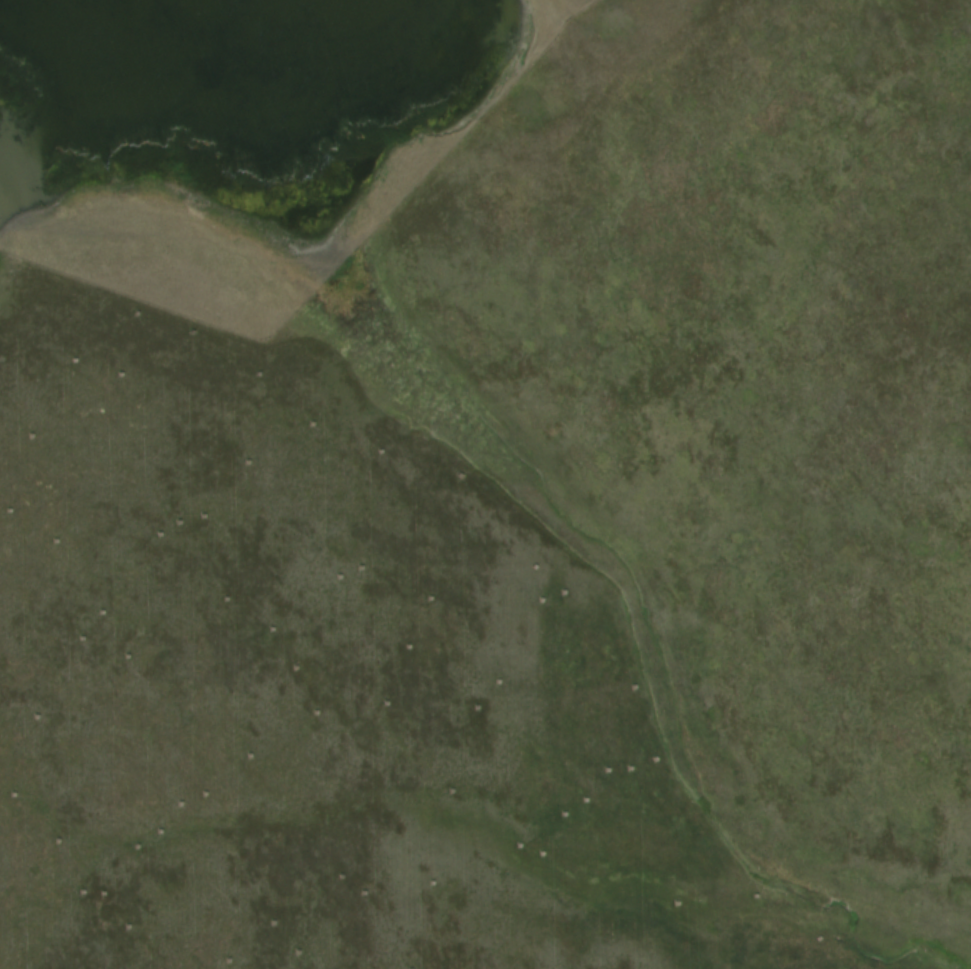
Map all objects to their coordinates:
dam: (555, 5)

